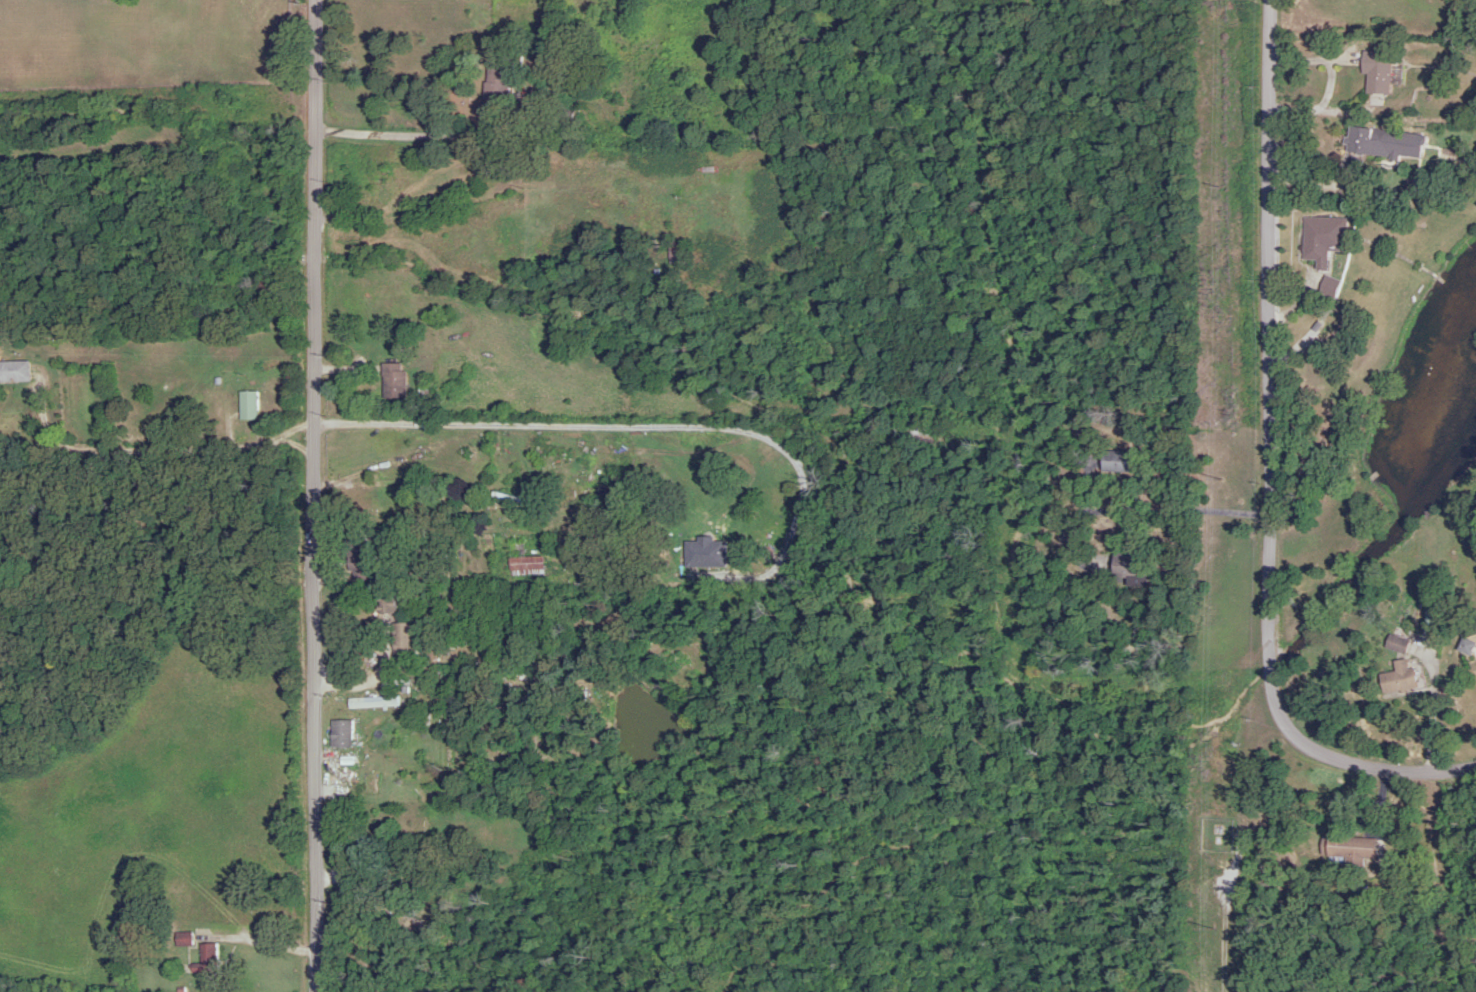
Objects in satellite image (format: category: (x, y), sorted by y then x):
building: (1374, 71)
road: (455, 139)
building: (1365, 146)
building: (1321, 236)
building: (1327, 285)
building: (13, 371)
building: (391, 380)
building: (245, 404)
road: (670, 413)
building: (909, 436)
road: (198, 450)
road: (1024, 451)
building: (1115, 461)
road: (1268, 468)
road: (424, 485)
road: (315, 495)
road: (1112, 509)
building: (357, 558)
building: (1128, 567)
building: (401, 638)
building: (540, 676)
building: (371, 702)
road: (1431, 715)
road: (1474, 724)
building: (339, 733)
road: (1242, 843)
building: (1346, 847)
building: (181, 939)
building: (205, 959)

